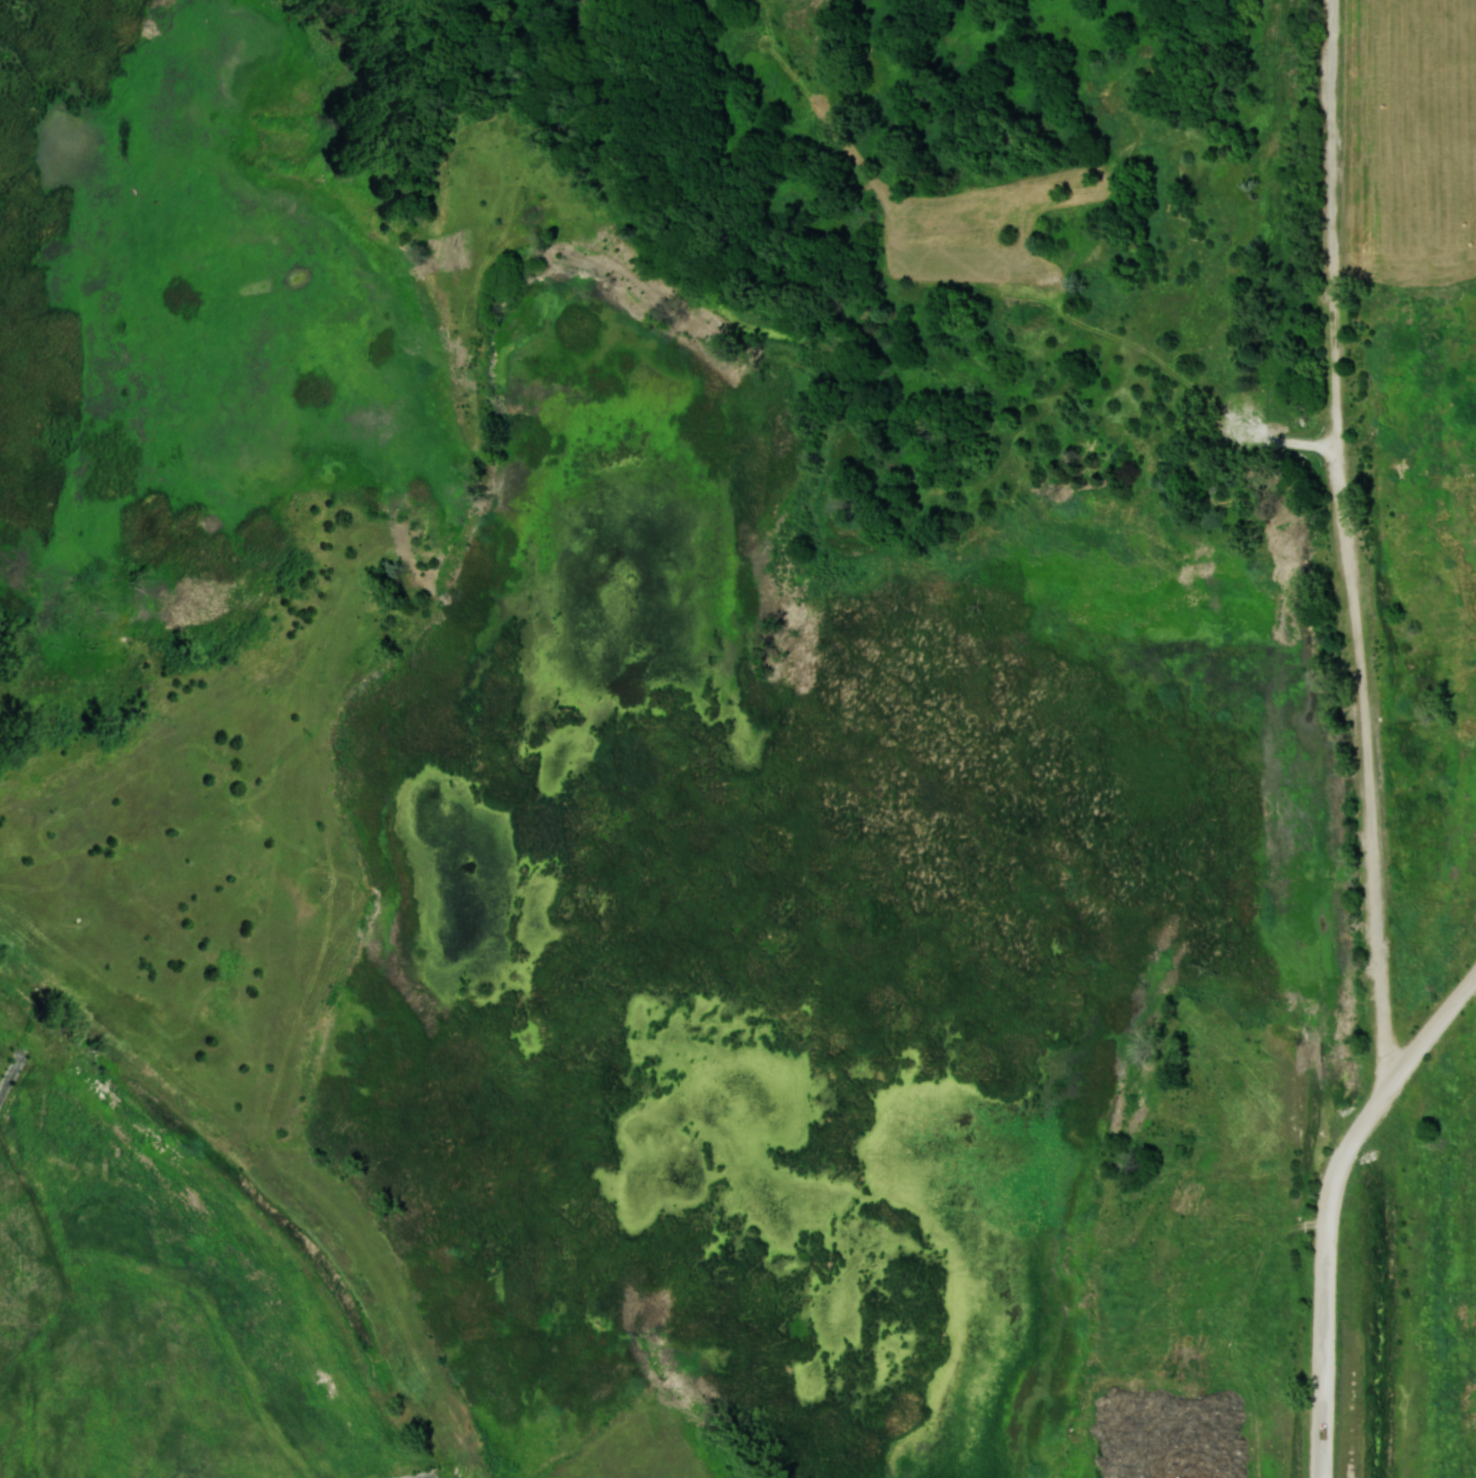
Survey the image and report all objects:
landfill: (738, 739)
road: (1367, 750)
road: (1194, 1468)

